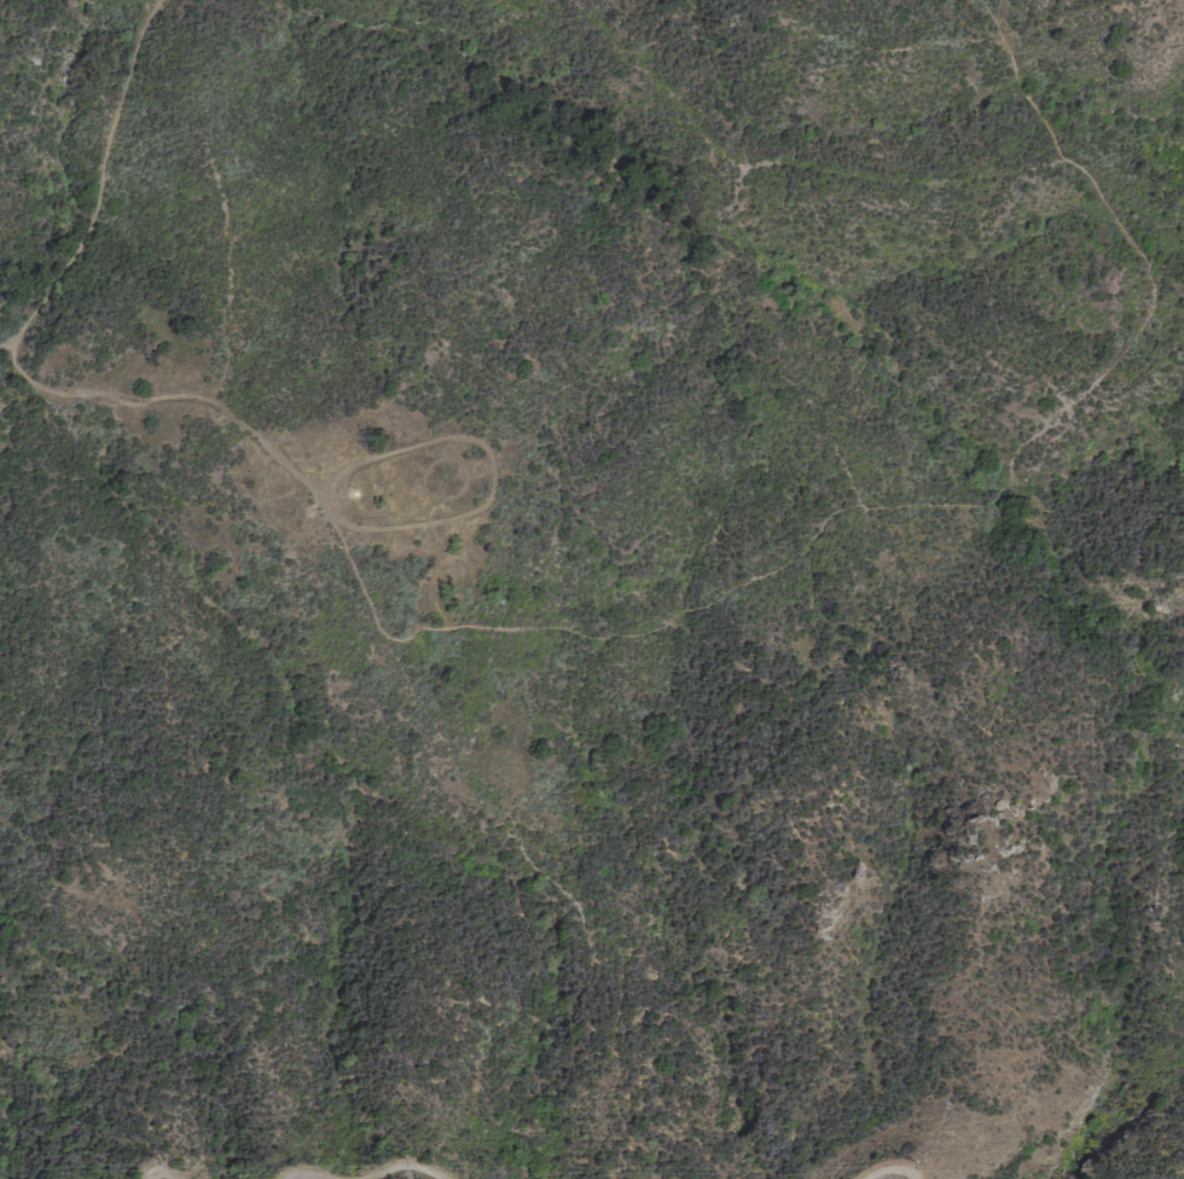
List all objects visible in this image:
road: (99, 185)
road: (329, 477)
road: (489, 495)
road: (341, 516)
road: (741, 586)
road: (892, 1165)
road: (408, 1166)
road: (302, 1172)
road: (161, 1177)

